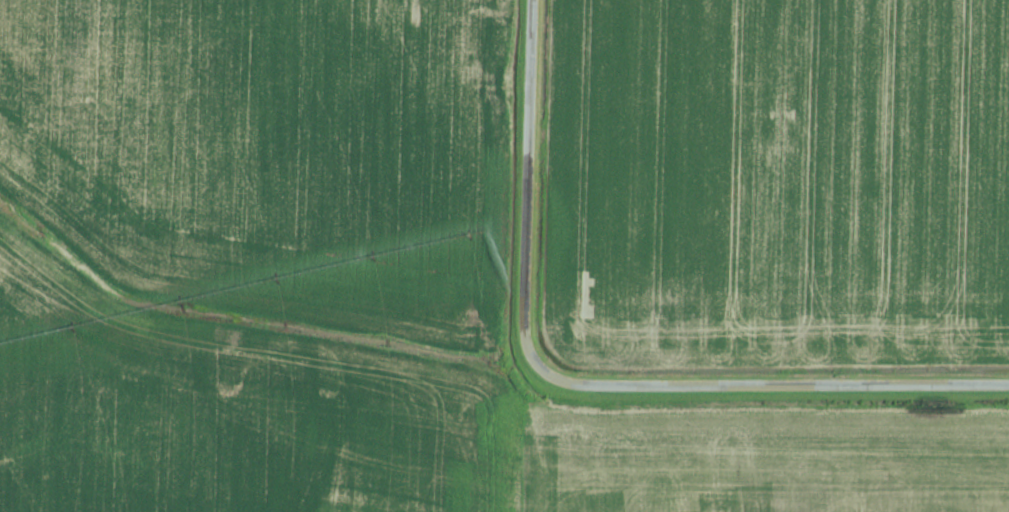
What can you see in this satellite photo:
road: (619, 359)

